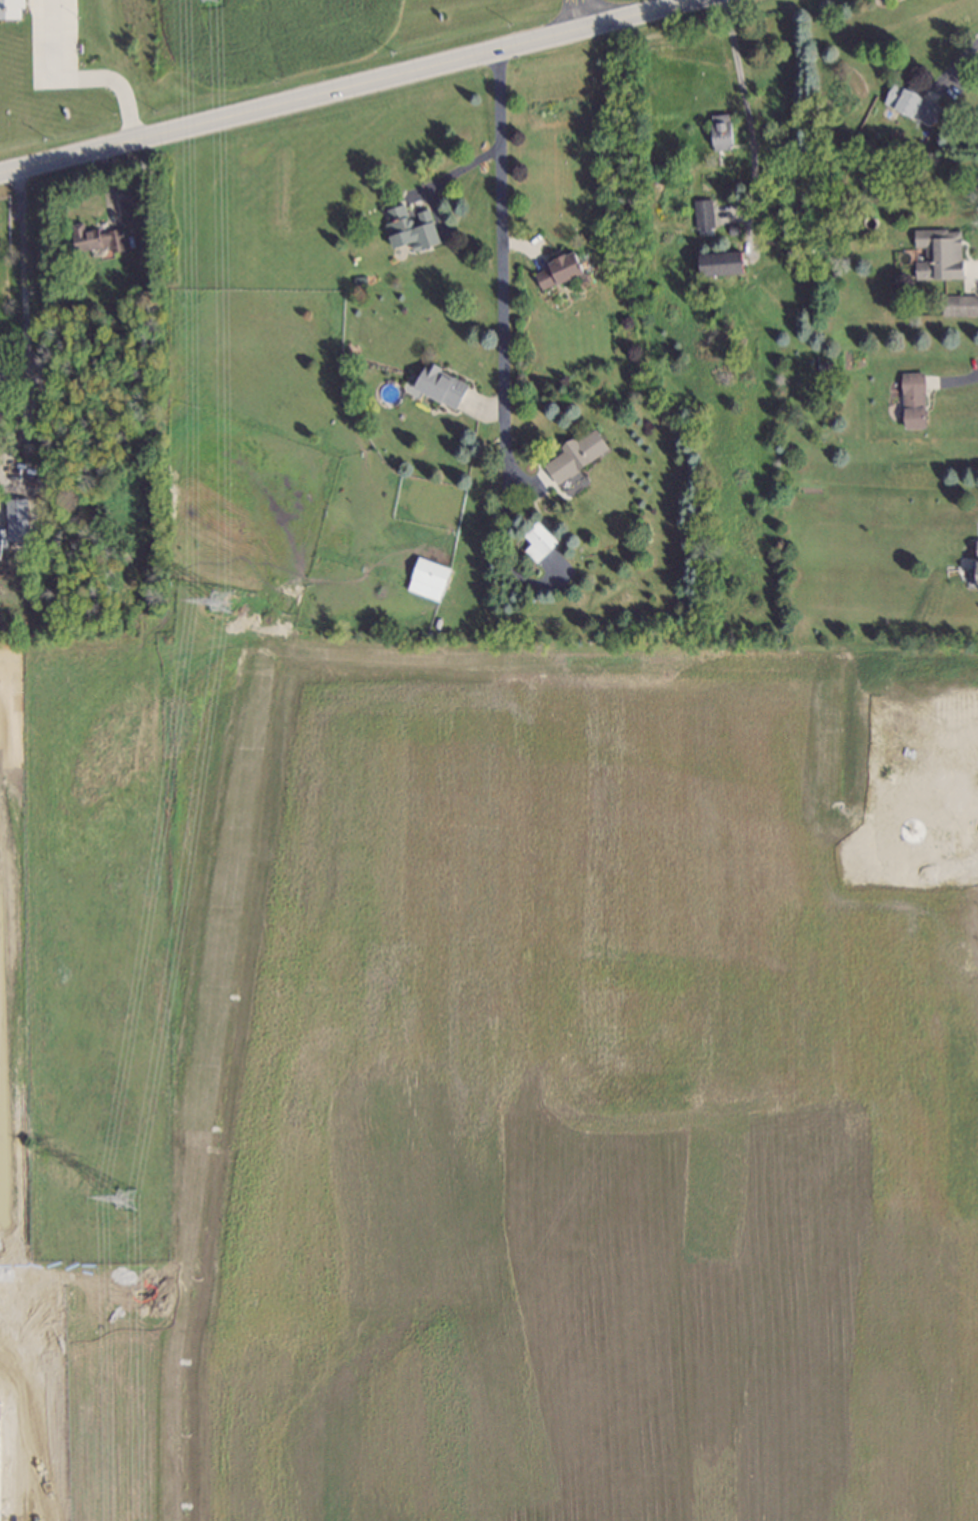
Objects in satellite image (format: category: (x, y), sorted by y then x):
building: (9, 9)
road: (578, 10)
road: (955, 64)
road: (77, 77)
road: (336, 81)
building: (909, 97)
road: (743, 106)
building: (719, 133)
road: (442, 176)
building: (703, 214)
building: (409, 225)
building: (732, 228)
building: (91, 238)
building: (935, 253)
building: (555, 262)
building: (718, 273)
road: (499, 303)
building: (956, 304)
road: (23, 317)
building: (1, 379)
building: (438, 379)
road: (960, 380)
building: (913, 400)
building: (26, 451)
building: (572, 451)
building: (17, 518)
building: (536, 539)
building: (974, 558)
building: (425, 578)
power tower: (222, 603)
crop: (85, 1084)
power tower: (127, 1199)

